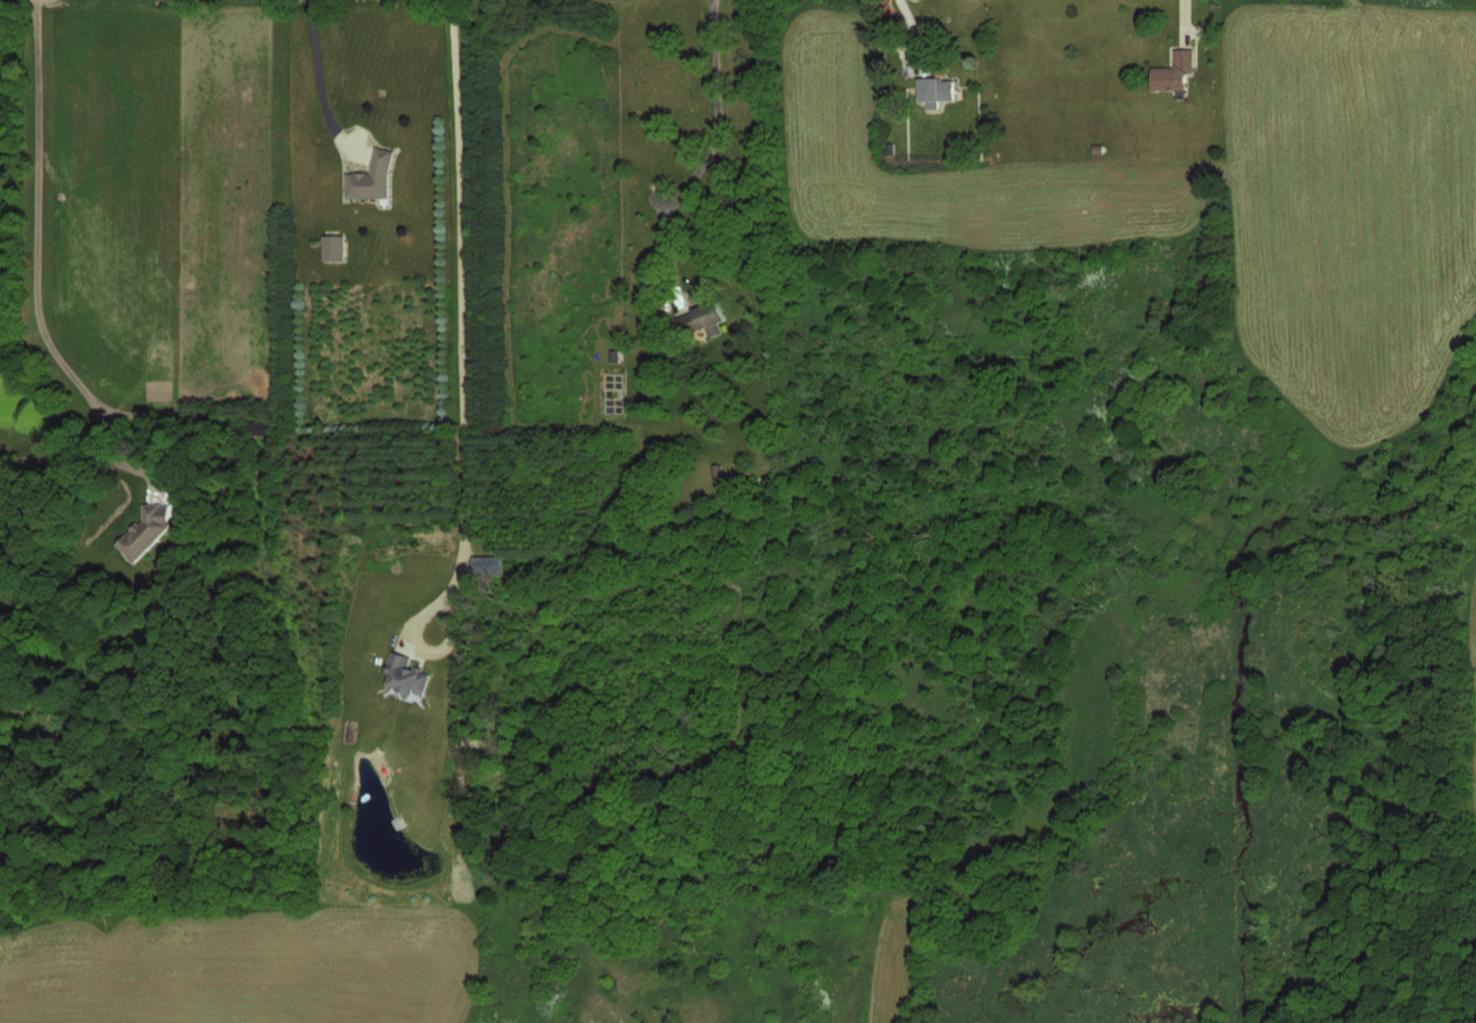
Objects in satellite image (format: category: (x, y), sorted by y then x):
road: (318, 66)
building: (1174, 70)
building: (935, 89)
road: (703, 153)
building: (372, 177)
building: (334, 247)
road: (39, 269)
road: (461, 289)
building: (701, 318)
building: (144, 530)
building: (487, 565)
road: (424, 646)
building: (406, 674)
crop: (243, 964)
crop: (832, 977)

